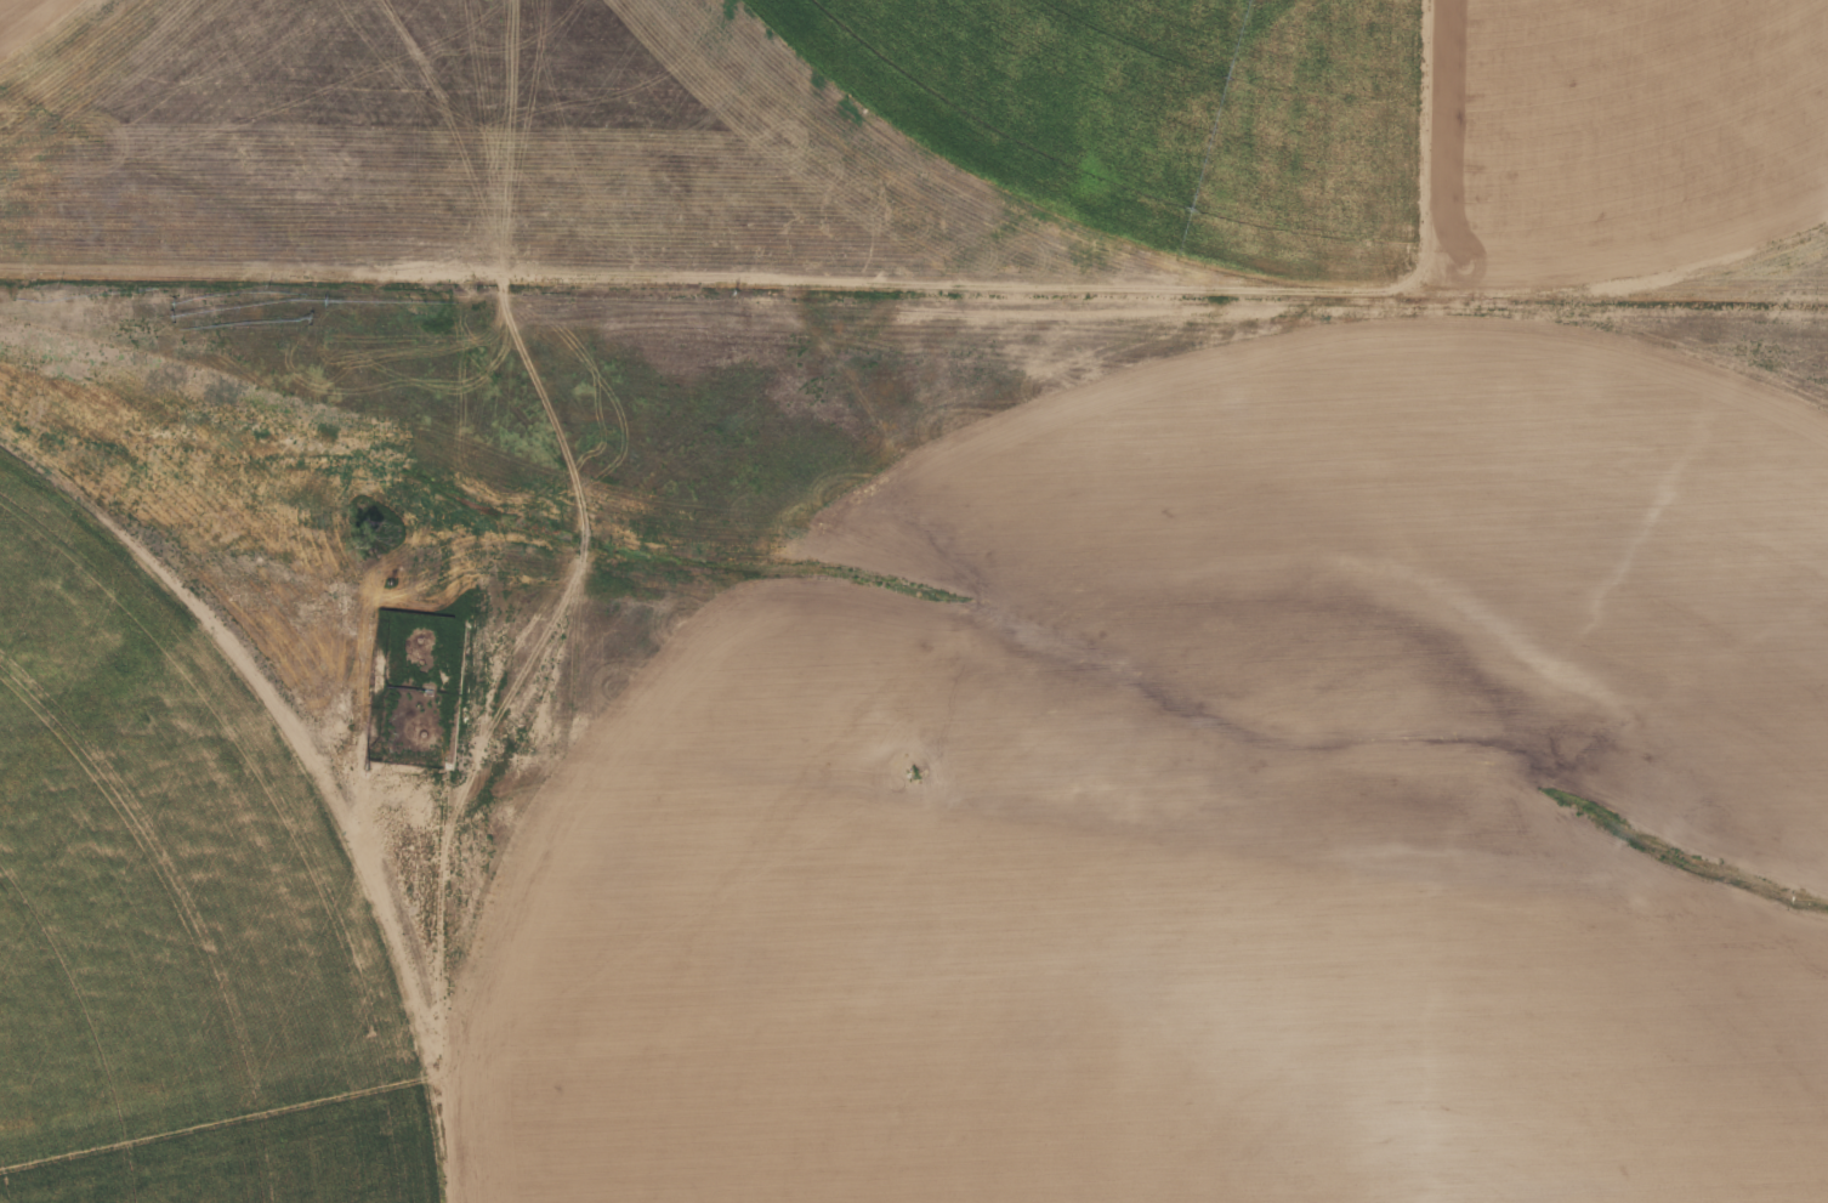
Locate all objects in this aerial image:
crop: (914, 601)

